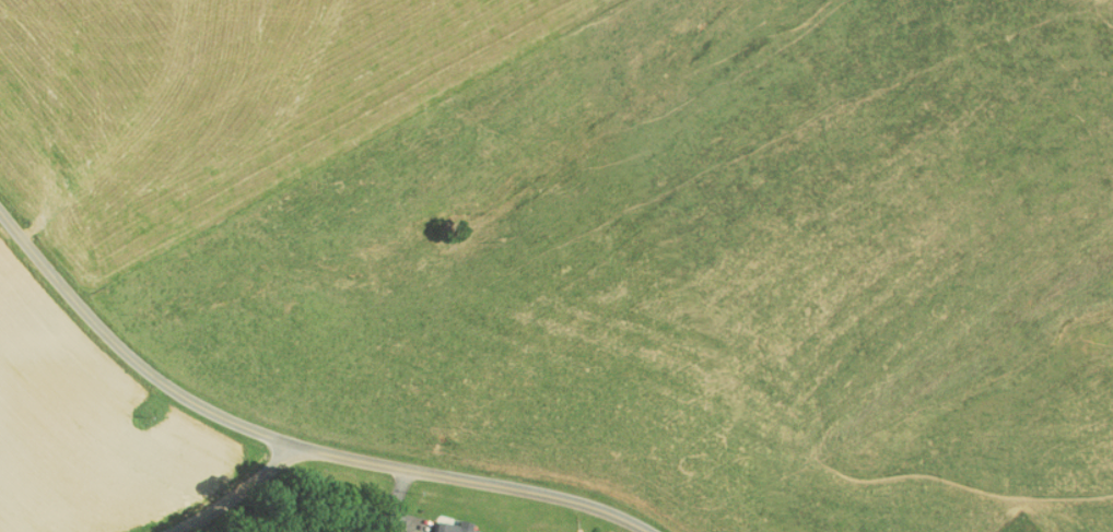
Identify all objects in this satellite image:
road: (286, 441)
road: (237, 492)
building: (445, 523)
road: (174, 531)

